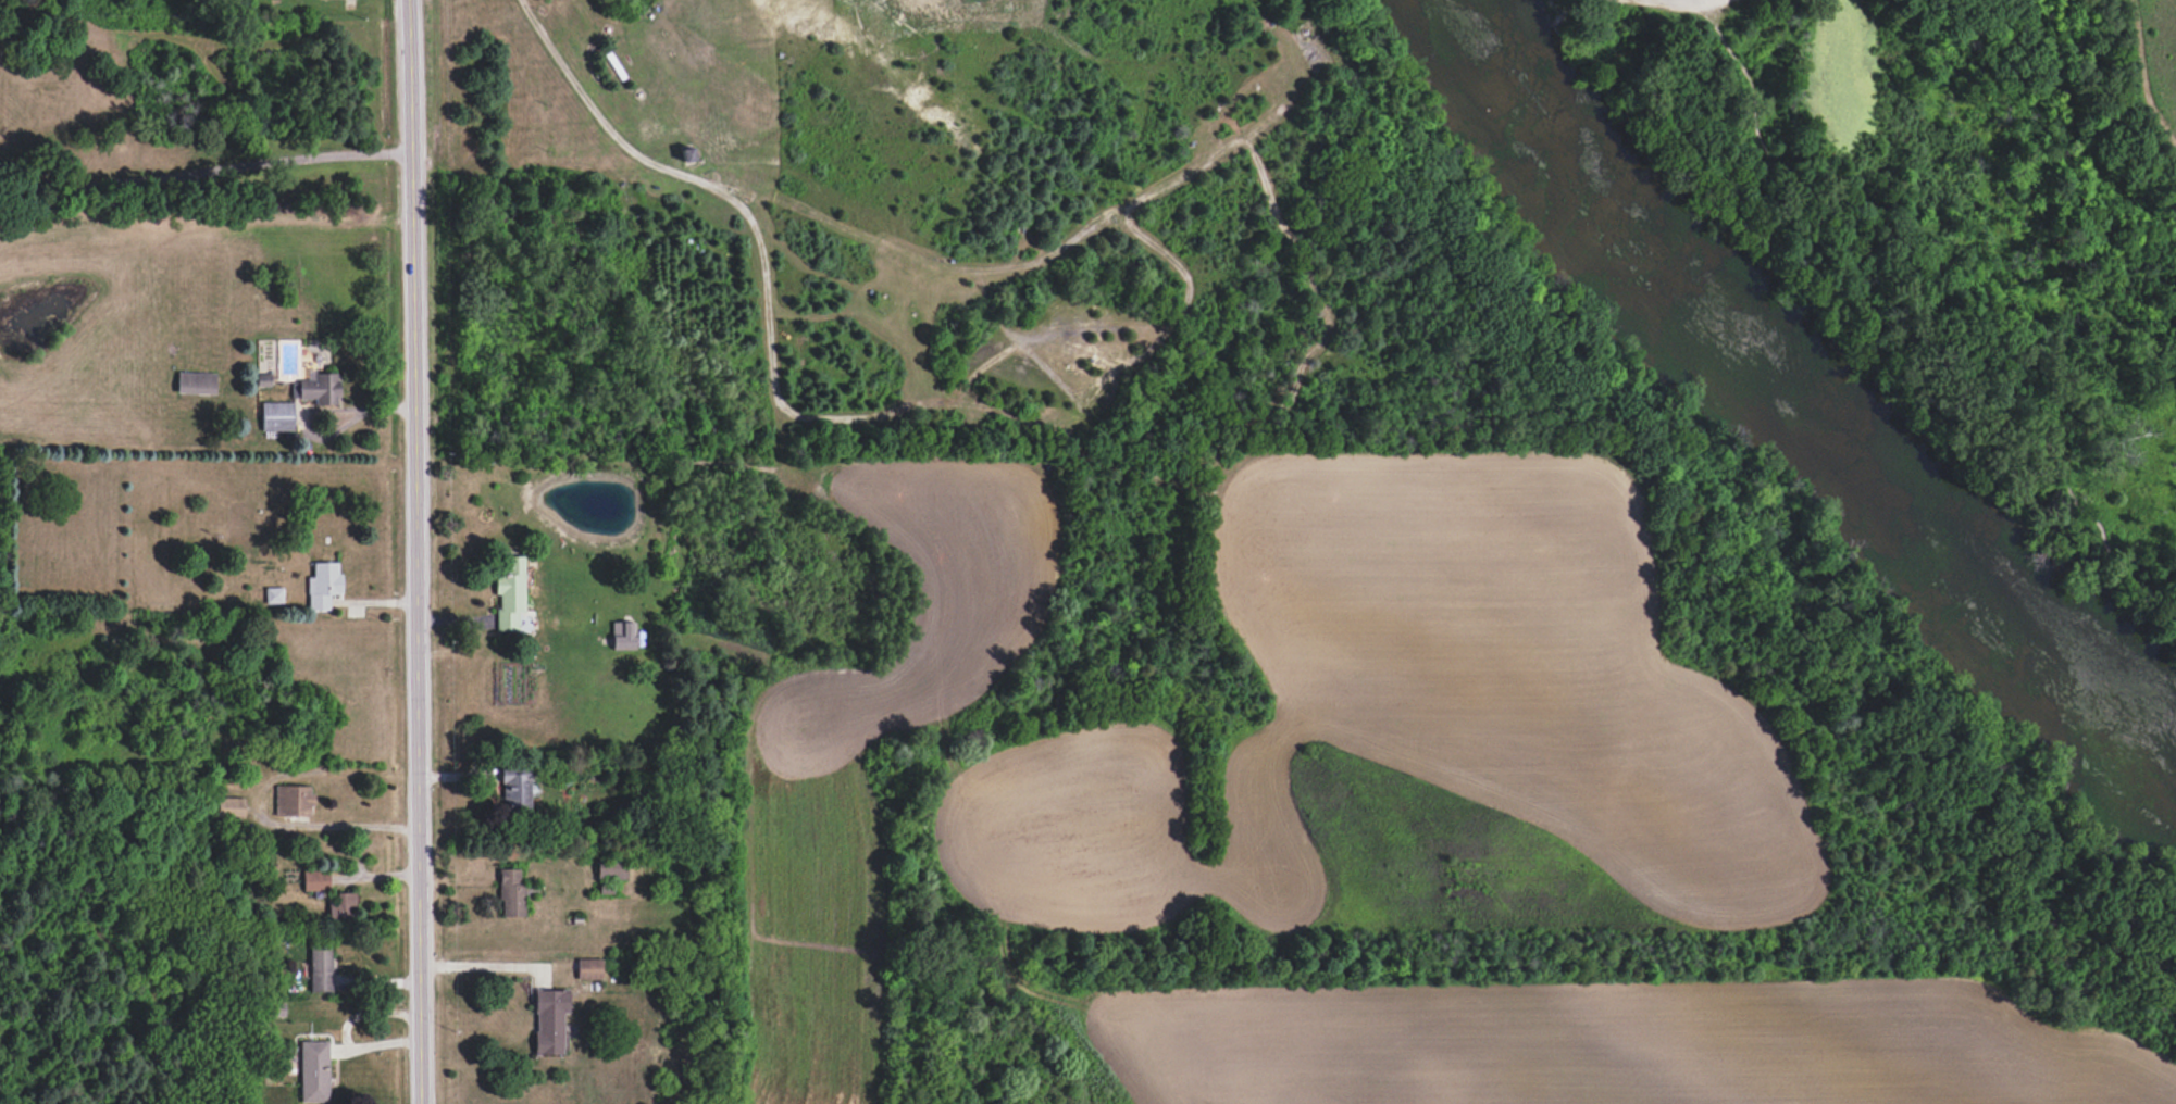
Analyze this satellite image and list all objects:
road: (220, 168)
road: (14, 174)
road: (14, 181)
park: (1932, 217)
building: (196, 382)
building: (320, 387)
river: (1776, 401)
building: (277, 416)
road: (416, 551)
building: (323, 585)
building: (510, 593)
building: (273, 594)
building: (623, 635)
building: (515, 787)
building: (293, 800)
building: (231, 807)
road: (338, 825)
building: (611, 868)
building: (316, 879)
building: (511, 893)
building: (343, 905)
road: (478, 965)
building: (321, 967)
building: (589, 968)
building: (549, 1020)
building: (314, 1071)

